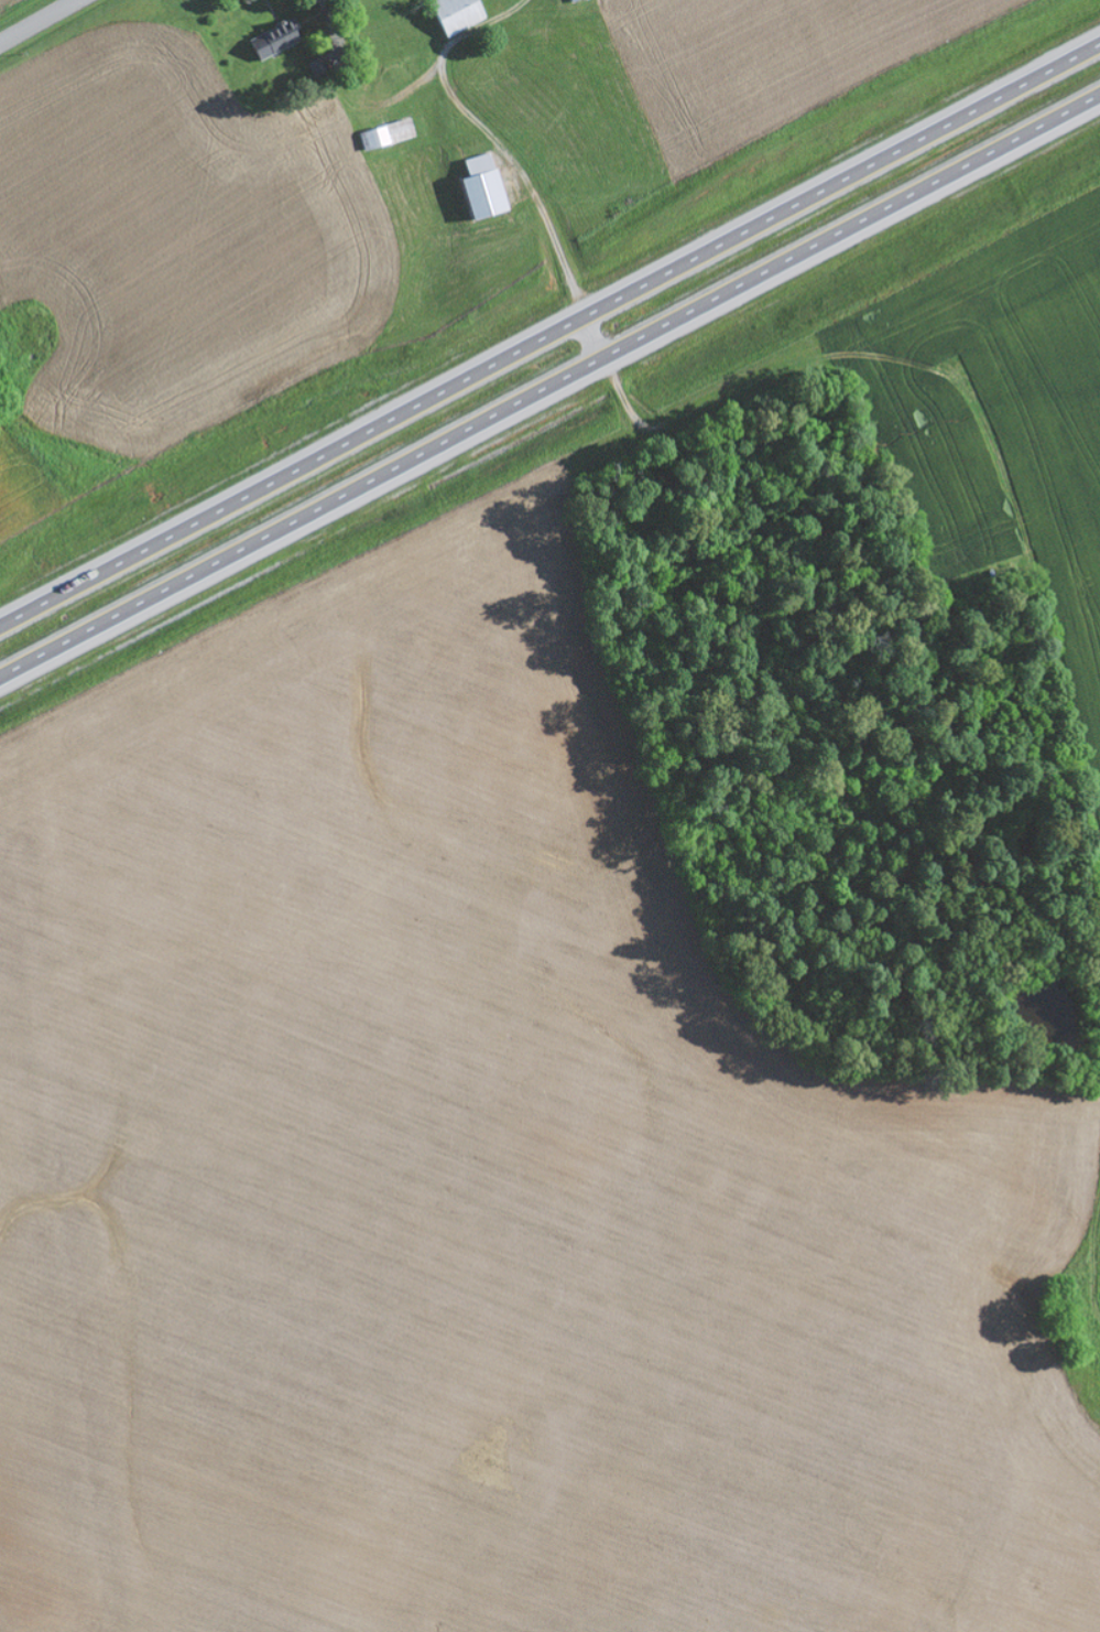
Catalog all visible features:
building: (574, 1)
building: (461, 14)
road: (34, 19)
building: (279, 41)
building: (389, 136)
building: (488, 188)
road: (551, 335)
road: (549, 387)

